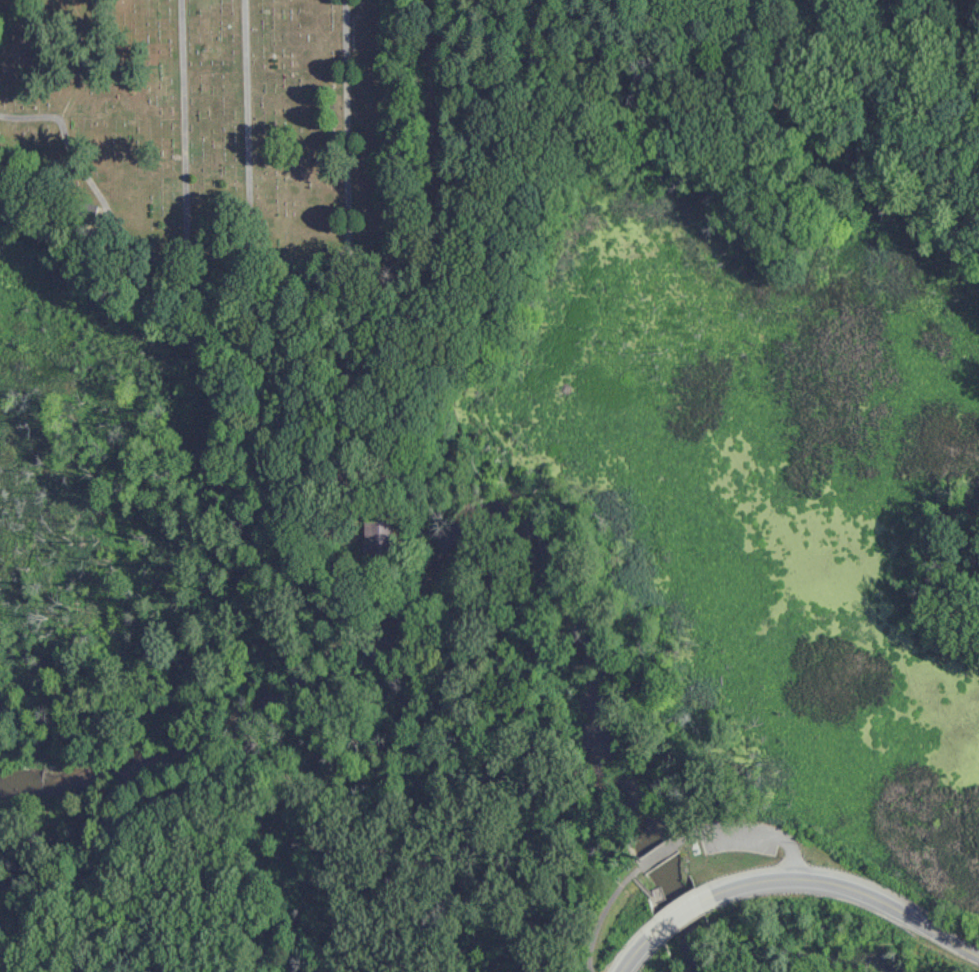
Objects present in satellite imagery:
park: (217, 132)
road: (440, 259)
river: (471, 524)
road: (769, 831)
road: (660, 852)
road: (853, 889)
road: (678, 912)
road: (604, 913)
road: (634, 953)

